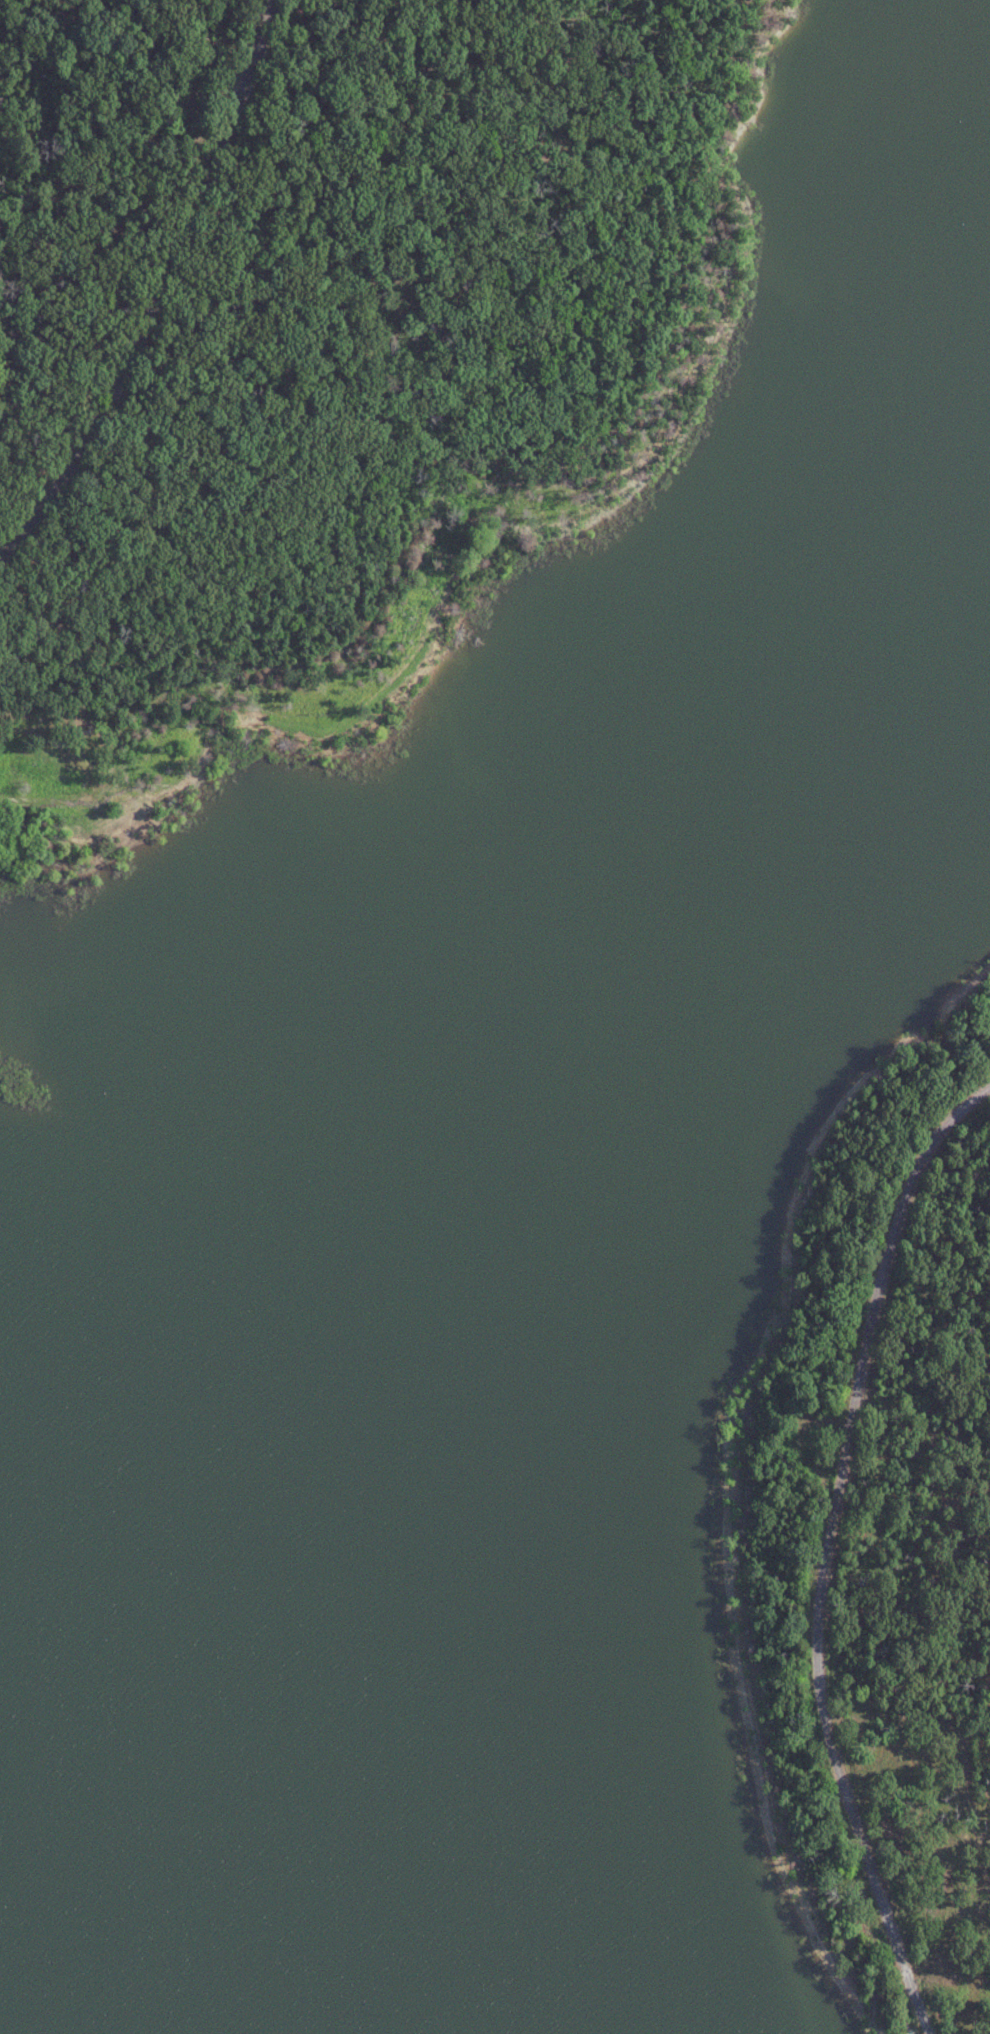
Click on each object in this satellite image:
road: (154, 282)
road: (826, 1551)
road: (956, 1748)

